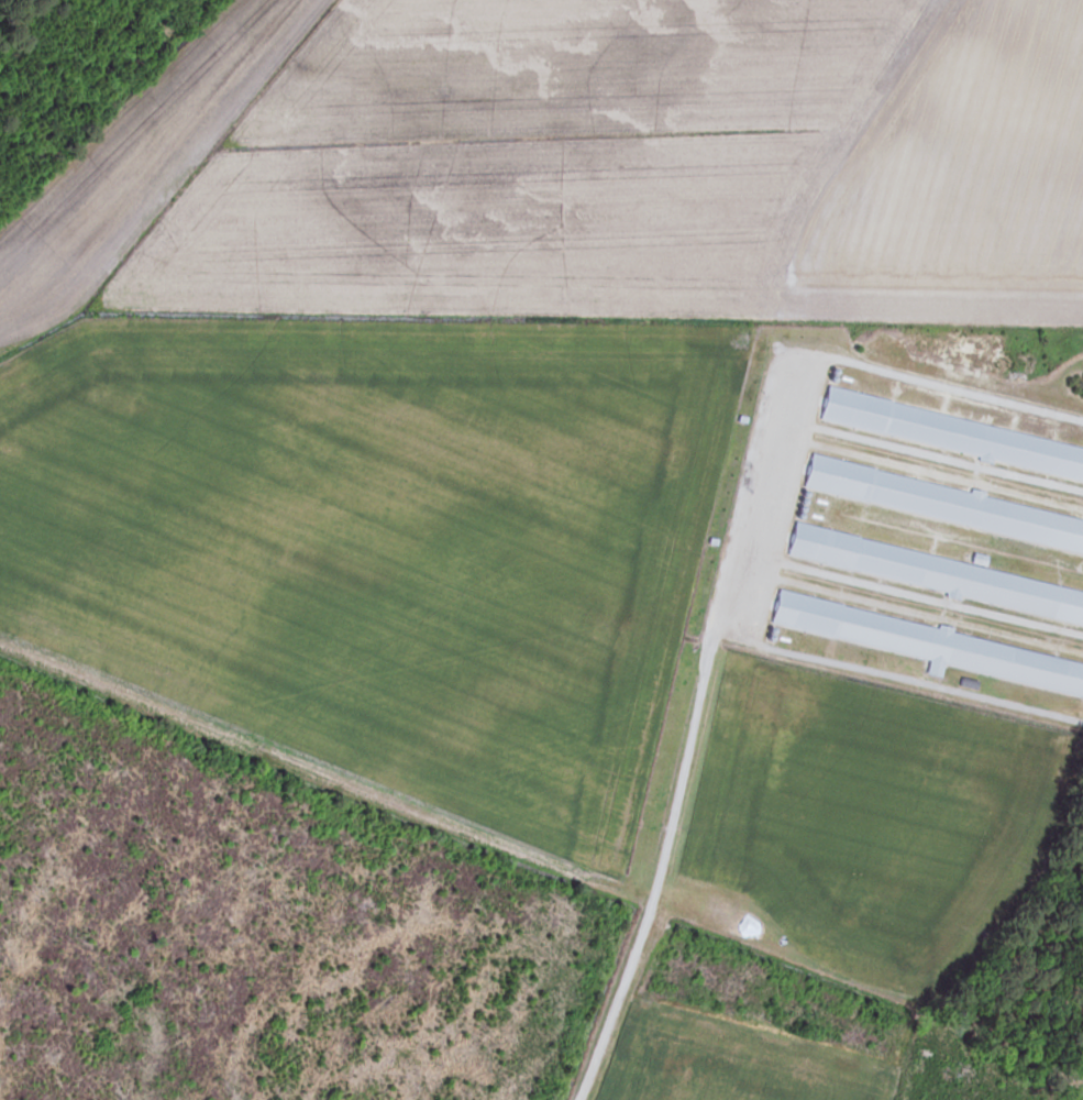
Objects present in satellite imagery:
building: (949, 437)
building: (935, 579)

